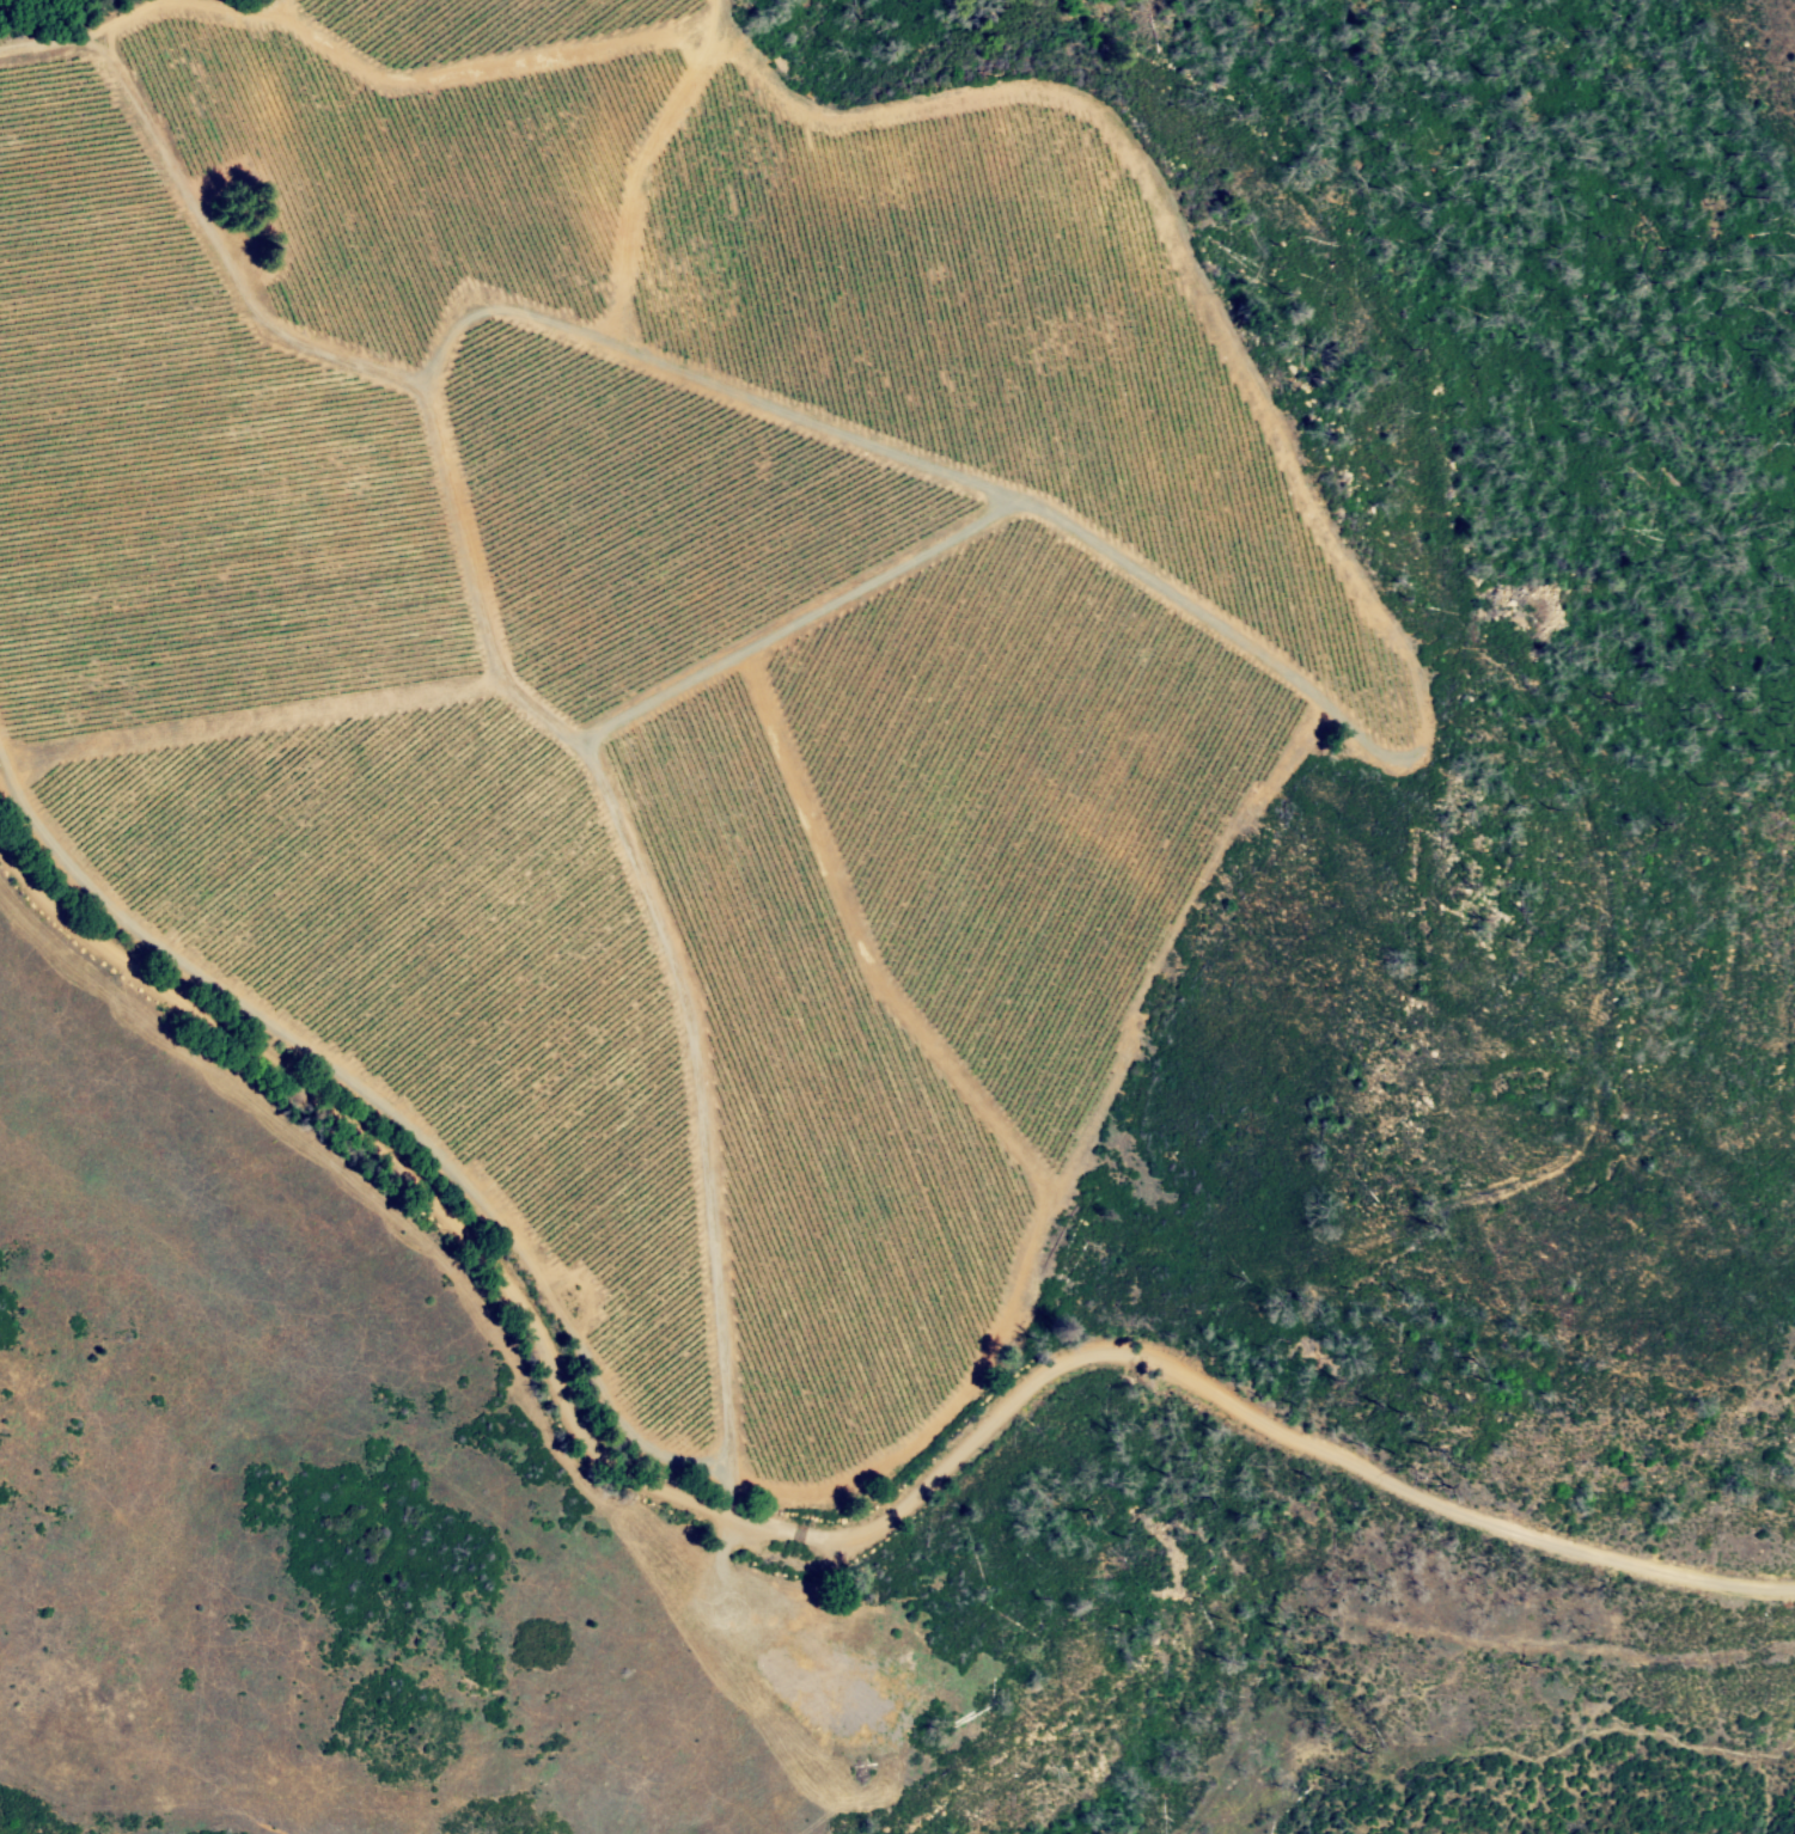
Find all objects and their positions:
road: (1159, 202)
road: (807, 1529)
road: (1180, 1595)

